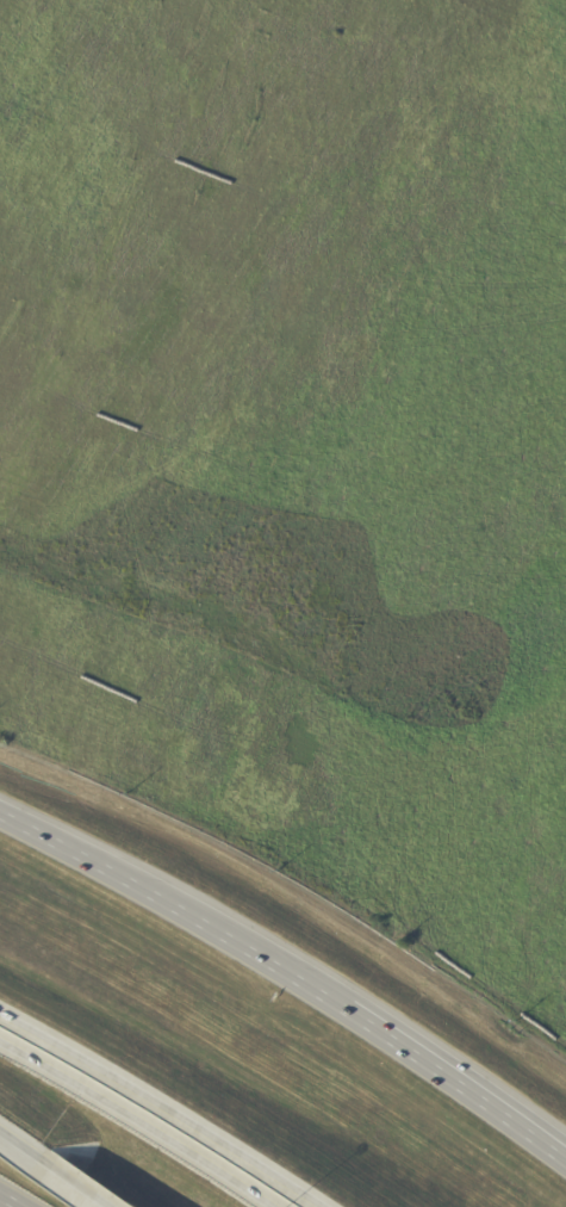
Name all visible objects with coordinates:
road: (174, 911)
road: (455, 1088)
road: (163, 1106)
road: (138, 1120)
road: (21, 1141)
road: (80, 1182)
road: (14, 1199)

